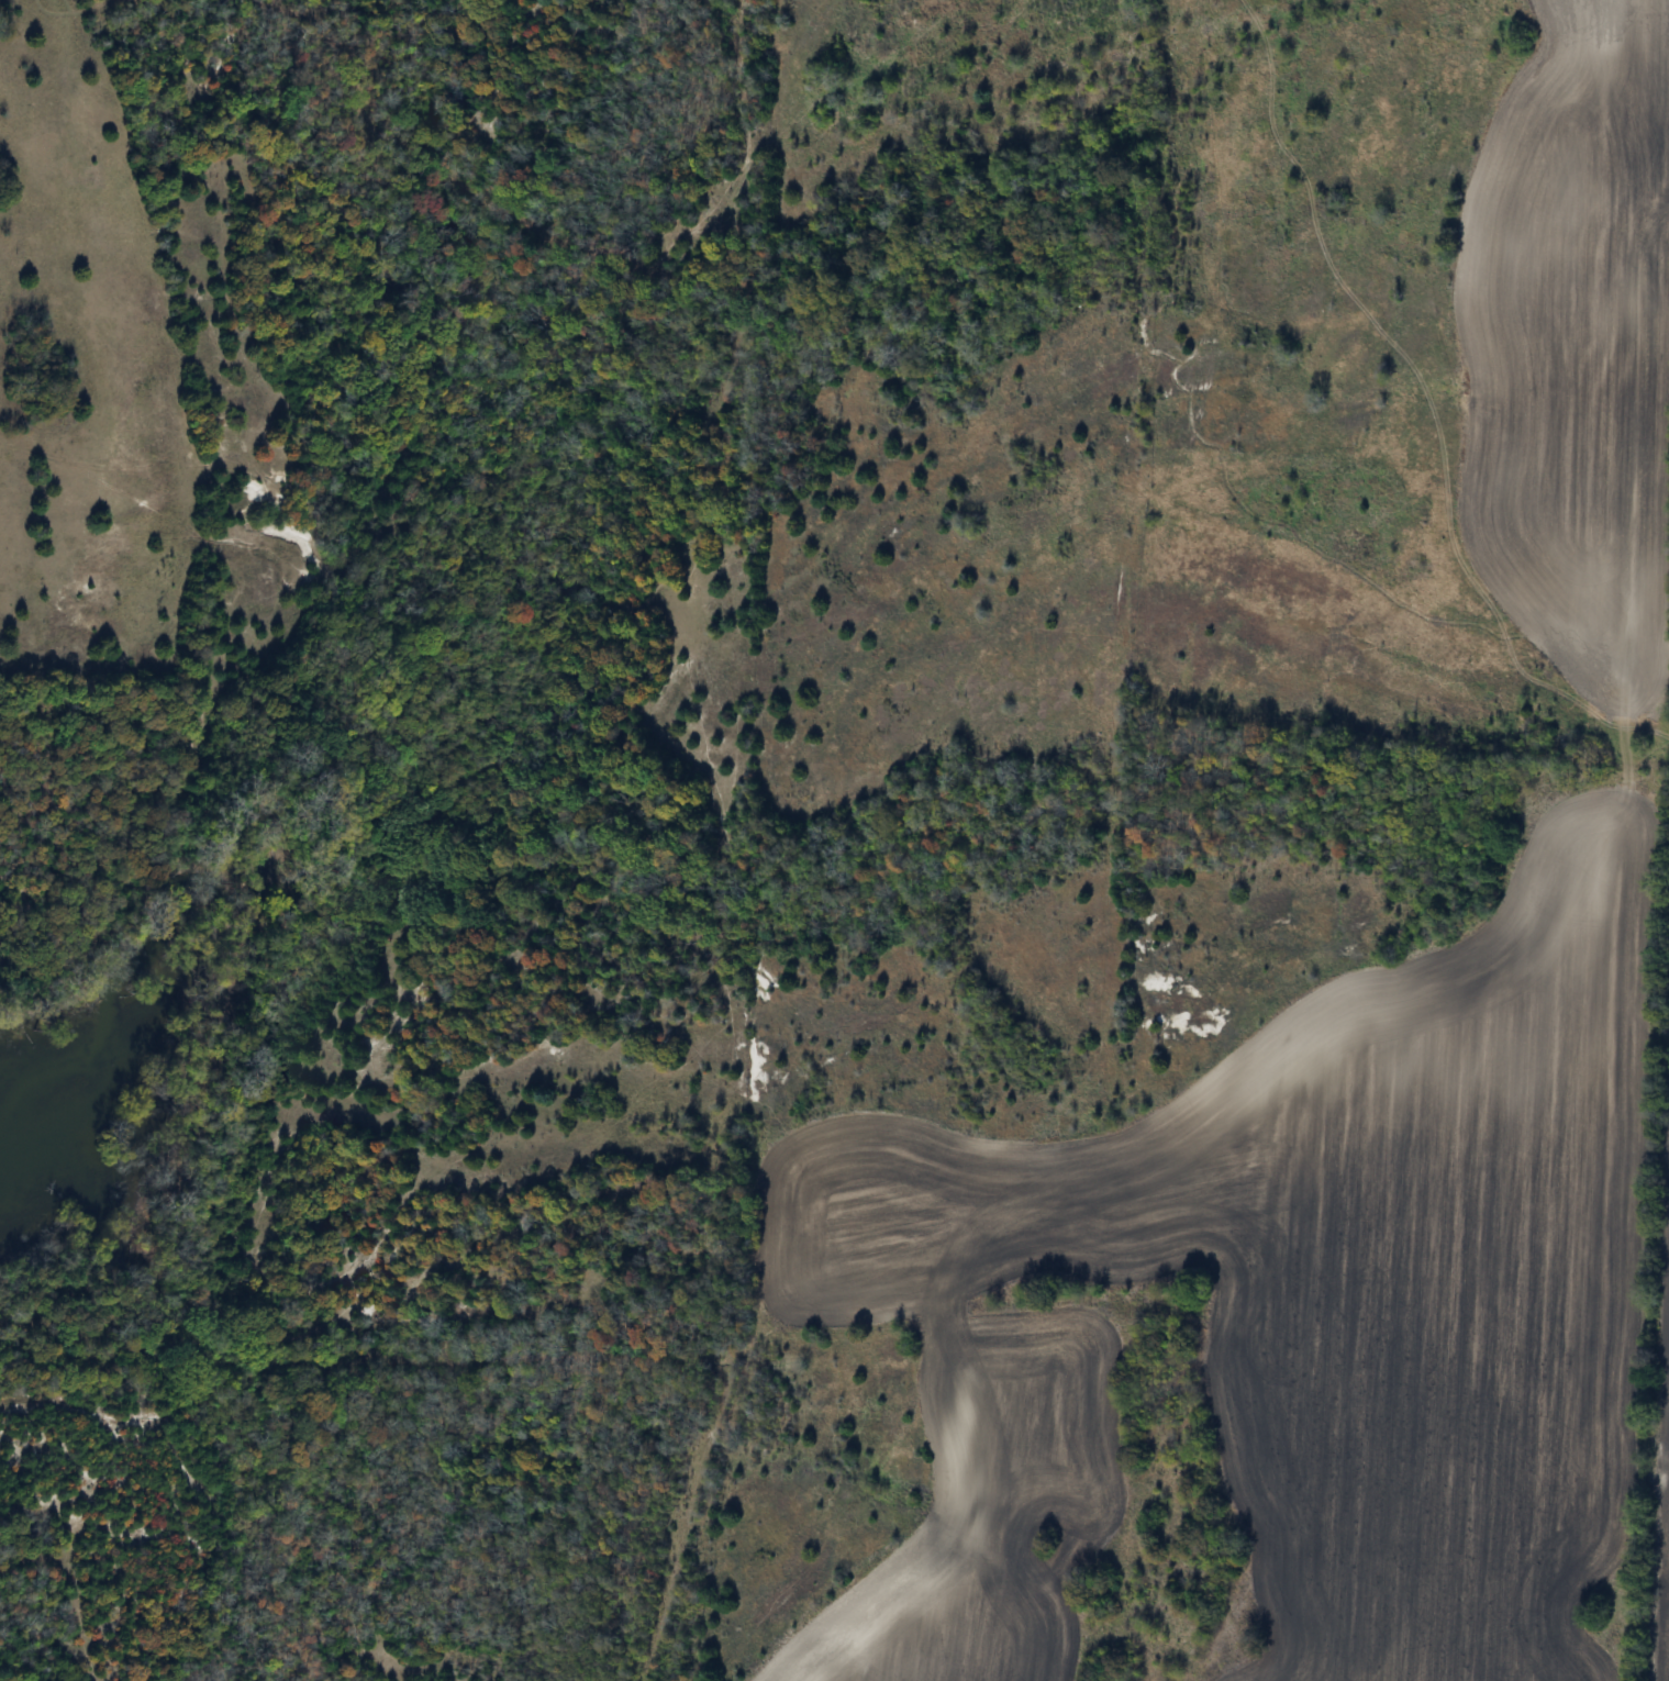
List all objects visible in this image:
building: (218, 436)

